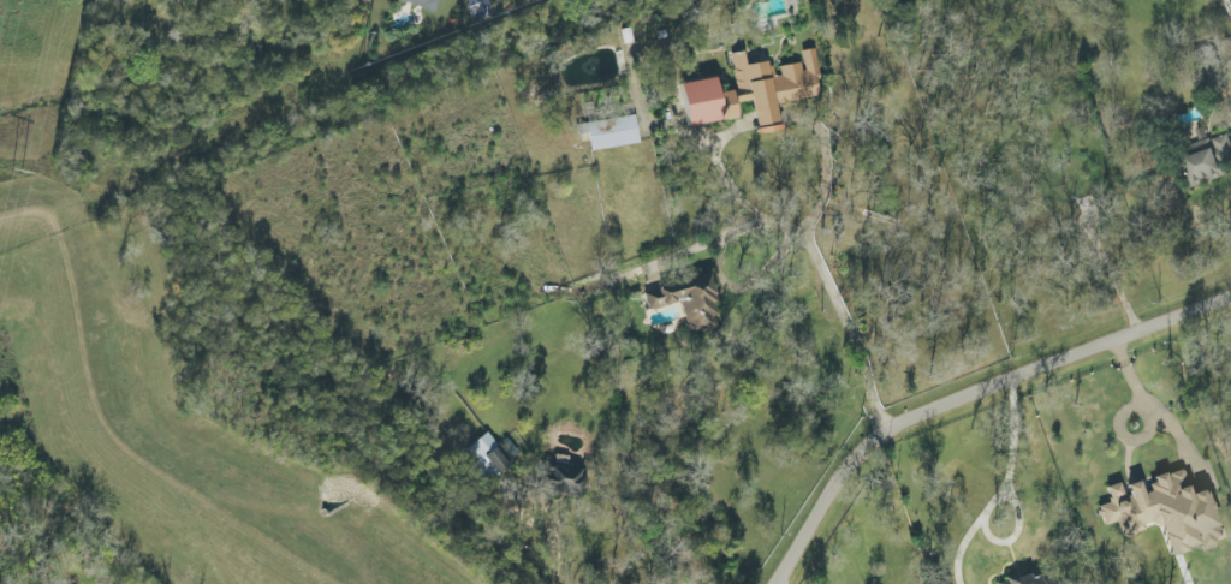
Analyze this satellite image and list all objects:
building: (422, 4)
road: (1227, 8)
building: (751, 91)
road: (763, 117)
building: (611, 132)
road: (822, 153)
building: (1207, 157)
power tower: (16, 174)
road: (724, 179)
road: (827, 244)
building: (689, 302)
road: (969, 392)
road: (1154, 410)
building: (486, 458)
building: (563, 477)
road: (1004, 485)
building: (1165, 512)
road: (569, 561)
building: (1024, 580)

